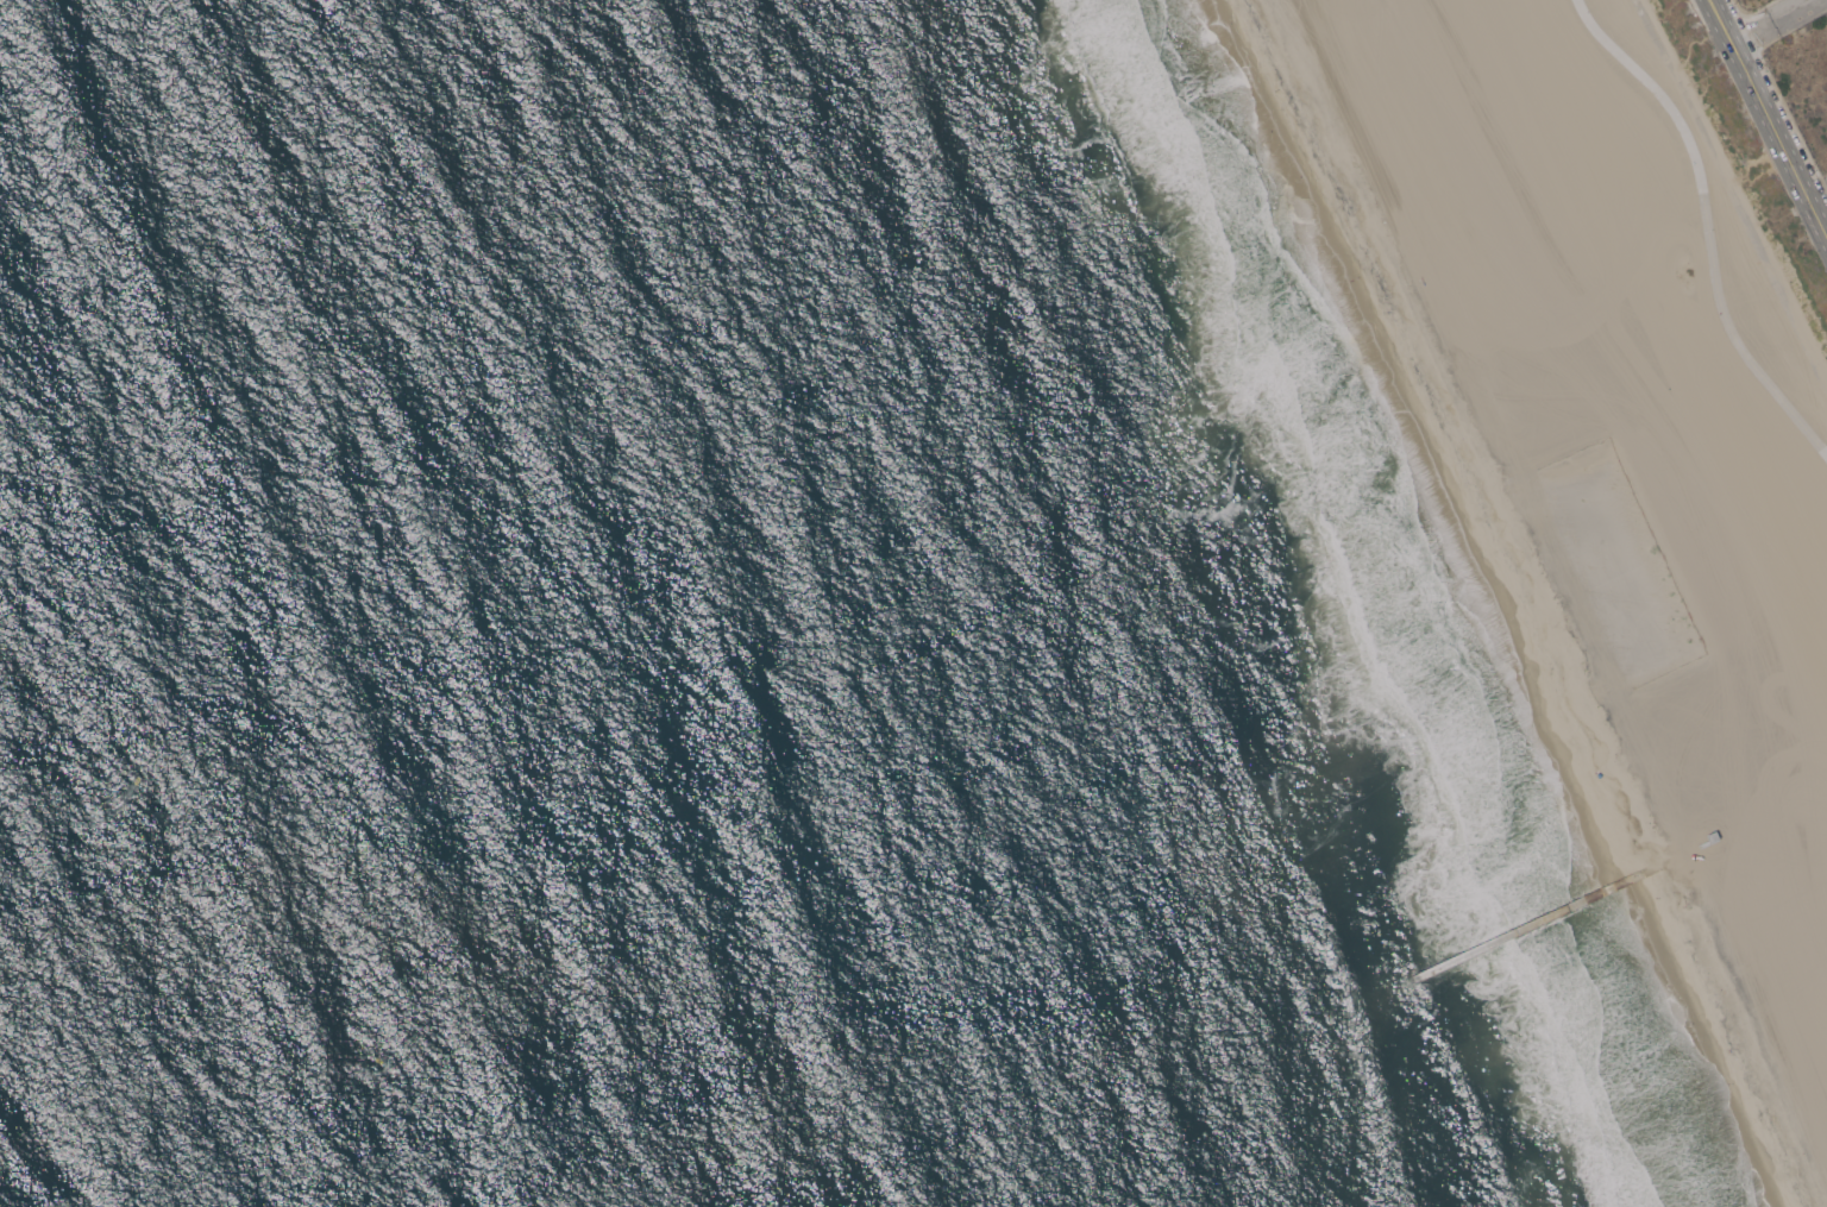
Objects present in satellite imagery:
road: (1734, 6)
road: (1788, 10)
road: (1720, 21)
road: (1751, 31)
road: (1769, 122)
road: (1733, 189)
road: (1817, 221)
road: (1707, 222)
pier: (1526, 925)

